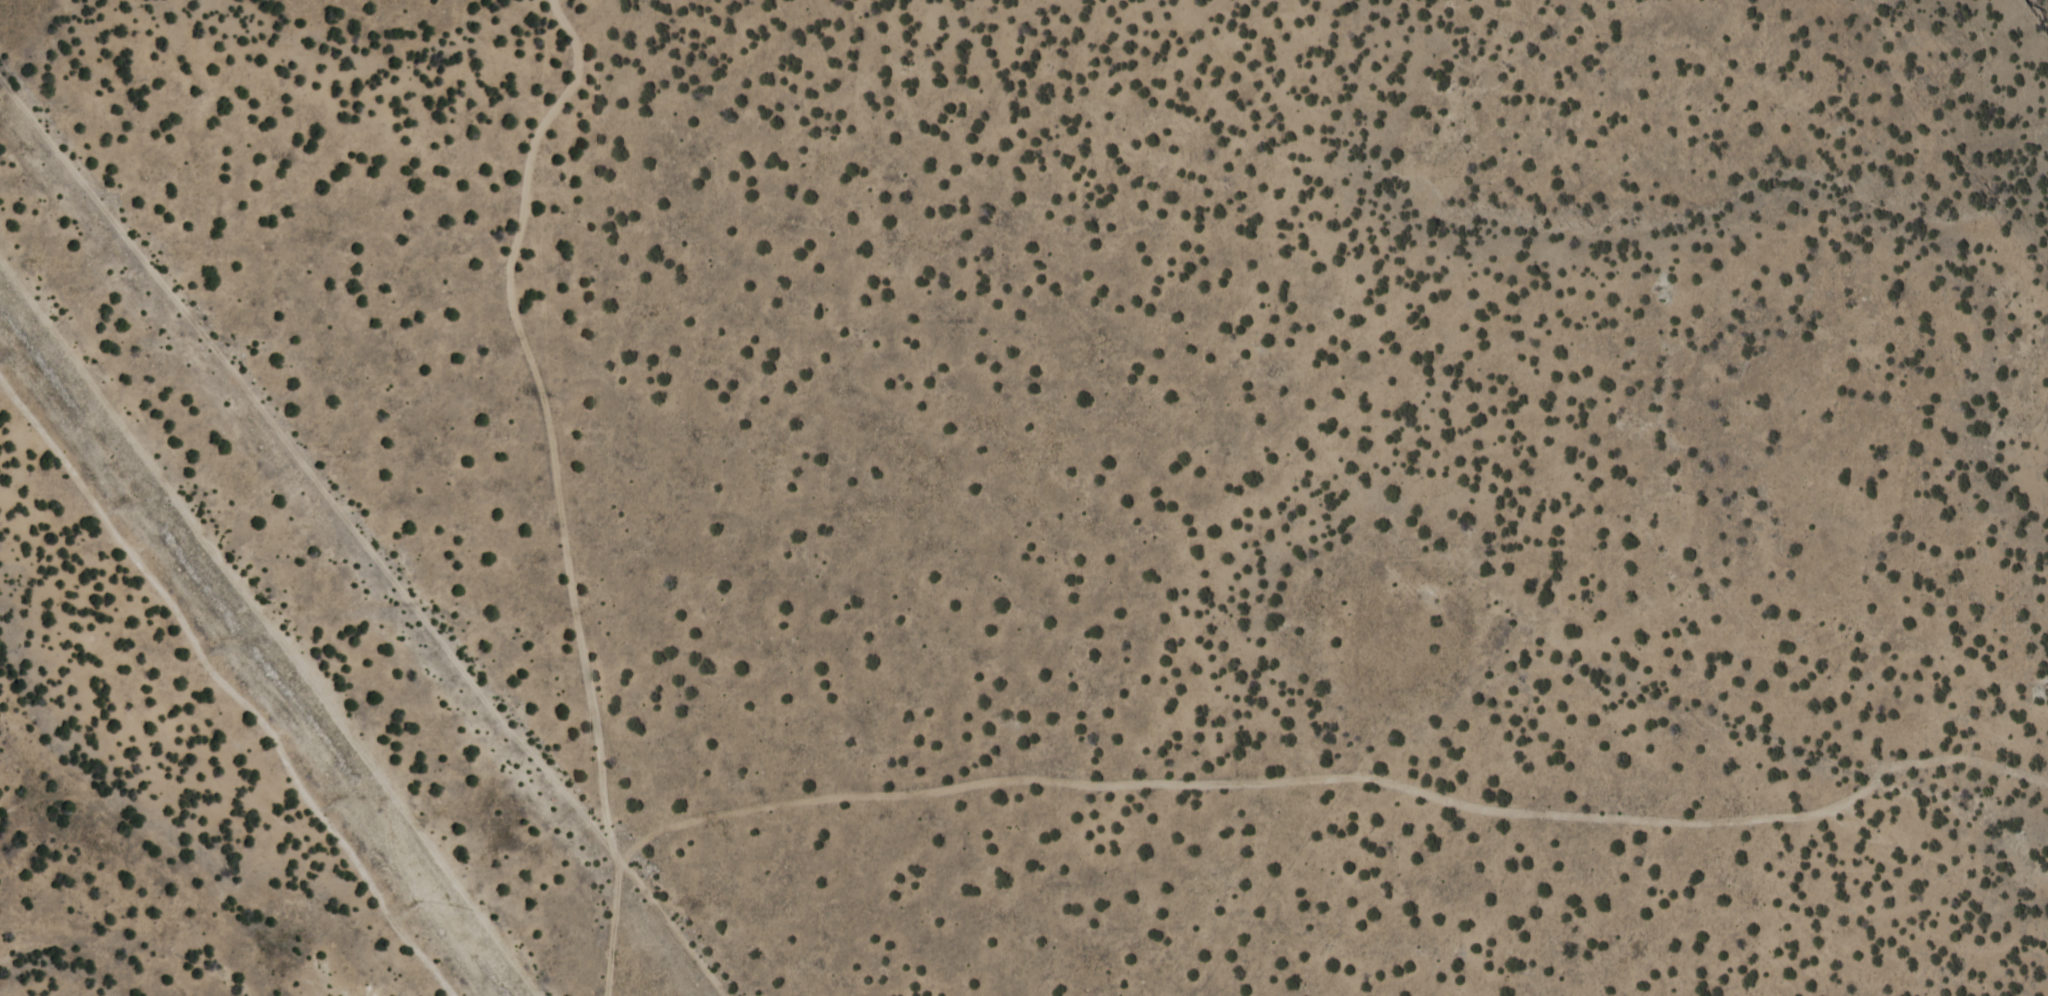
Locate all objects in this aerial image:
road: (570, 500)
road: (1339, 769)

